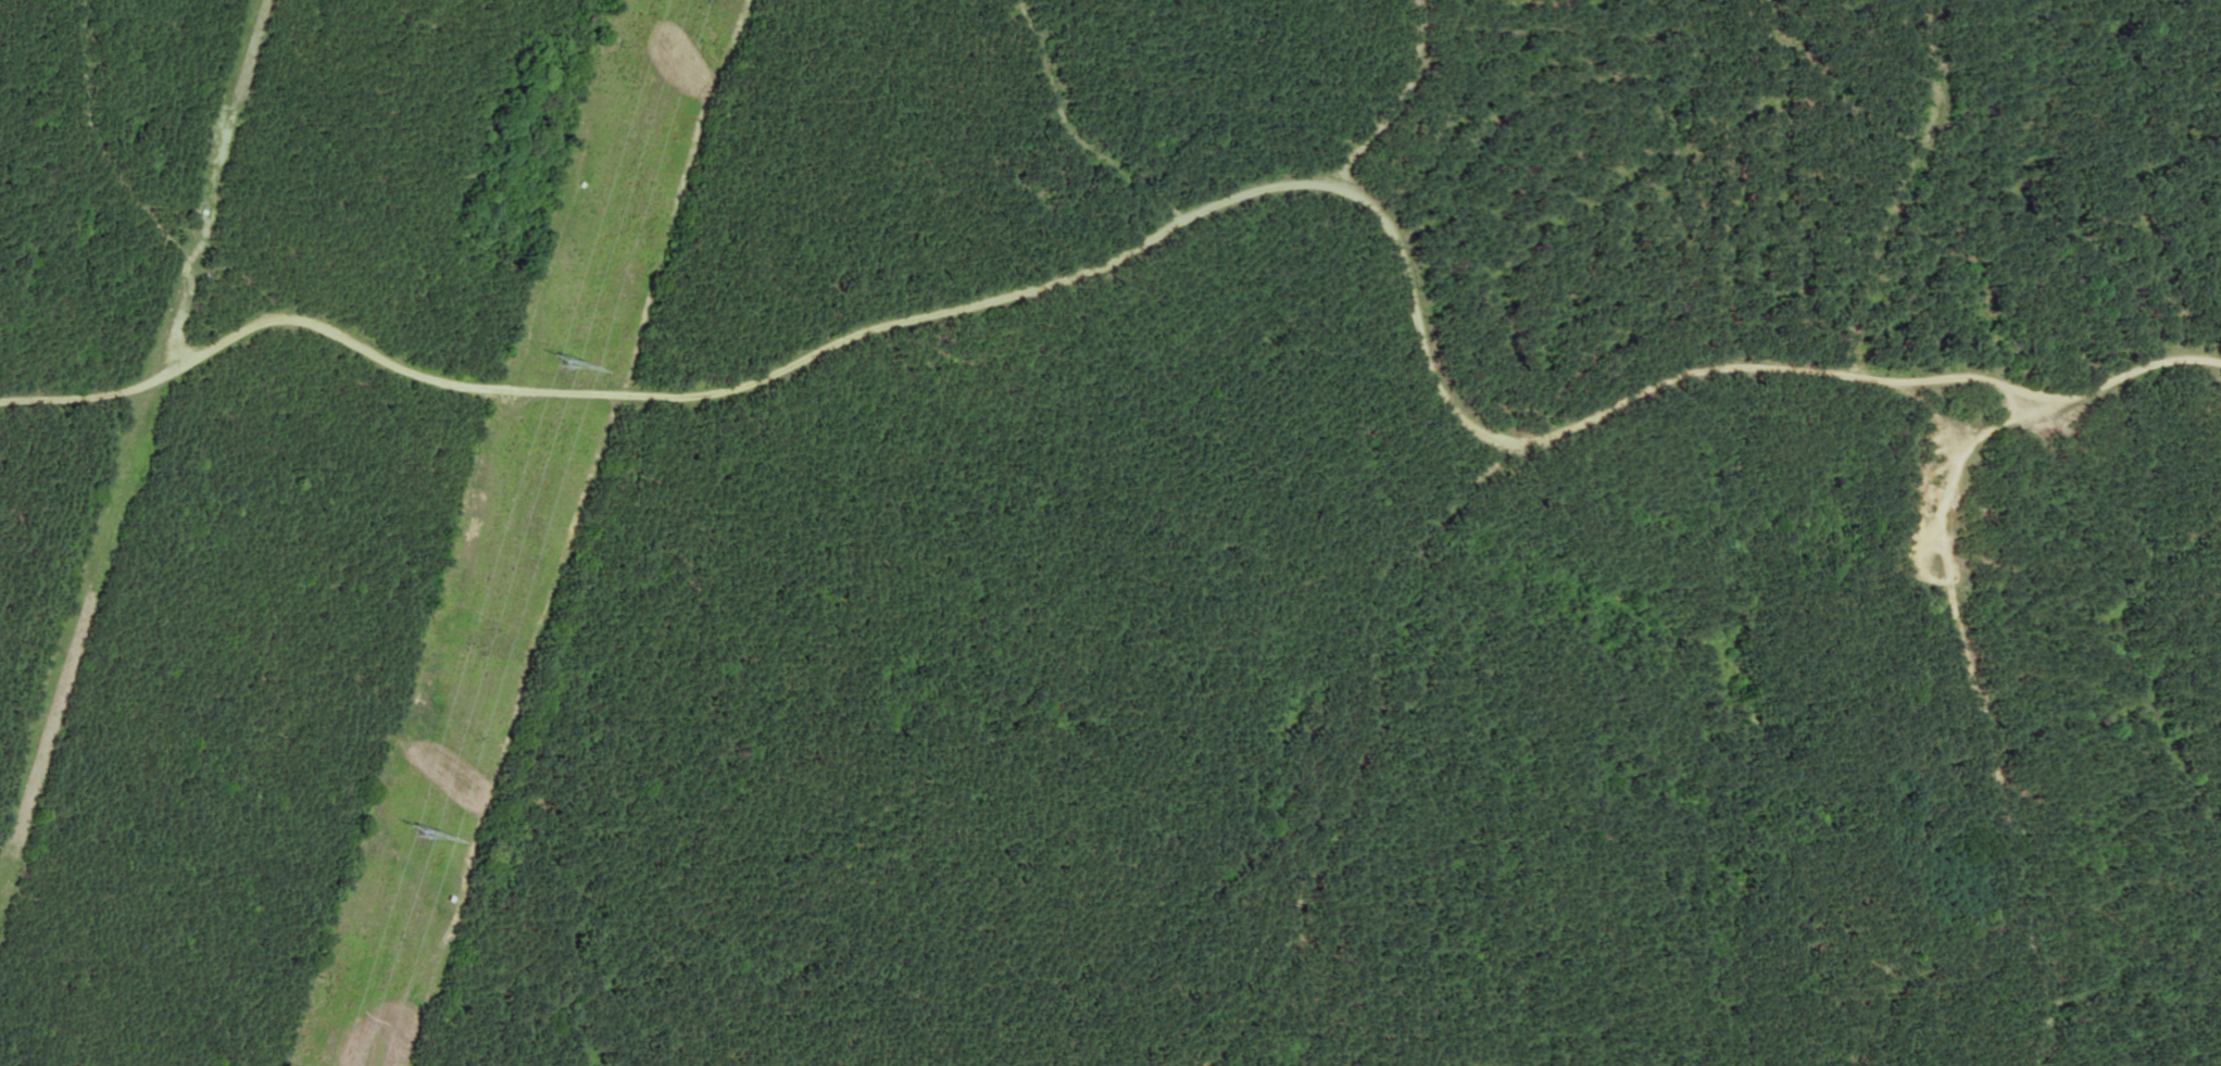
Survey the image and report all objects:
road: (166, 190)
road: (1233, 200)
power tower: (563, 360)
road: (79, 398)
power tower: (416, 836)

